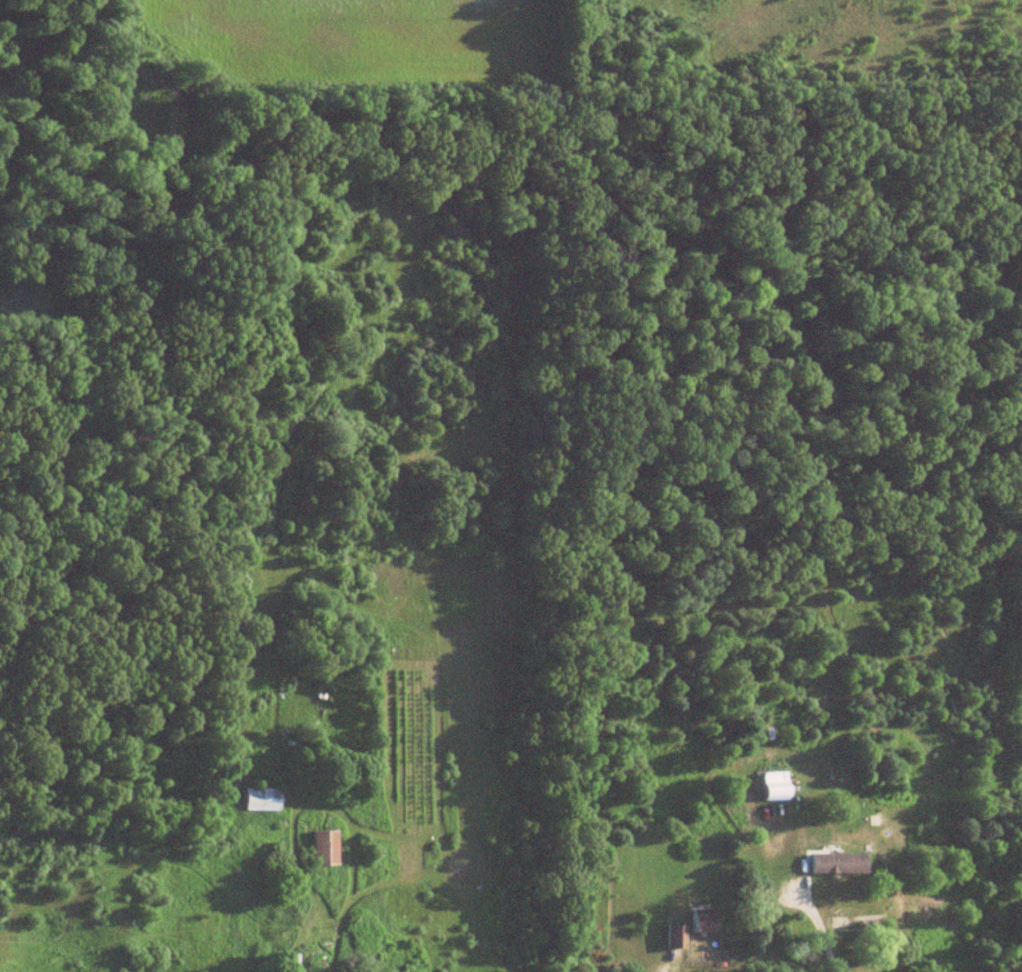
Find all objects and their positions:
building: (772, 786)
building: (258, 800)
building: (322, 848)
building: (836, 864)
building: (701, 921)
road: (821, 932)
building: (675, 938)
building: (283, 964)

